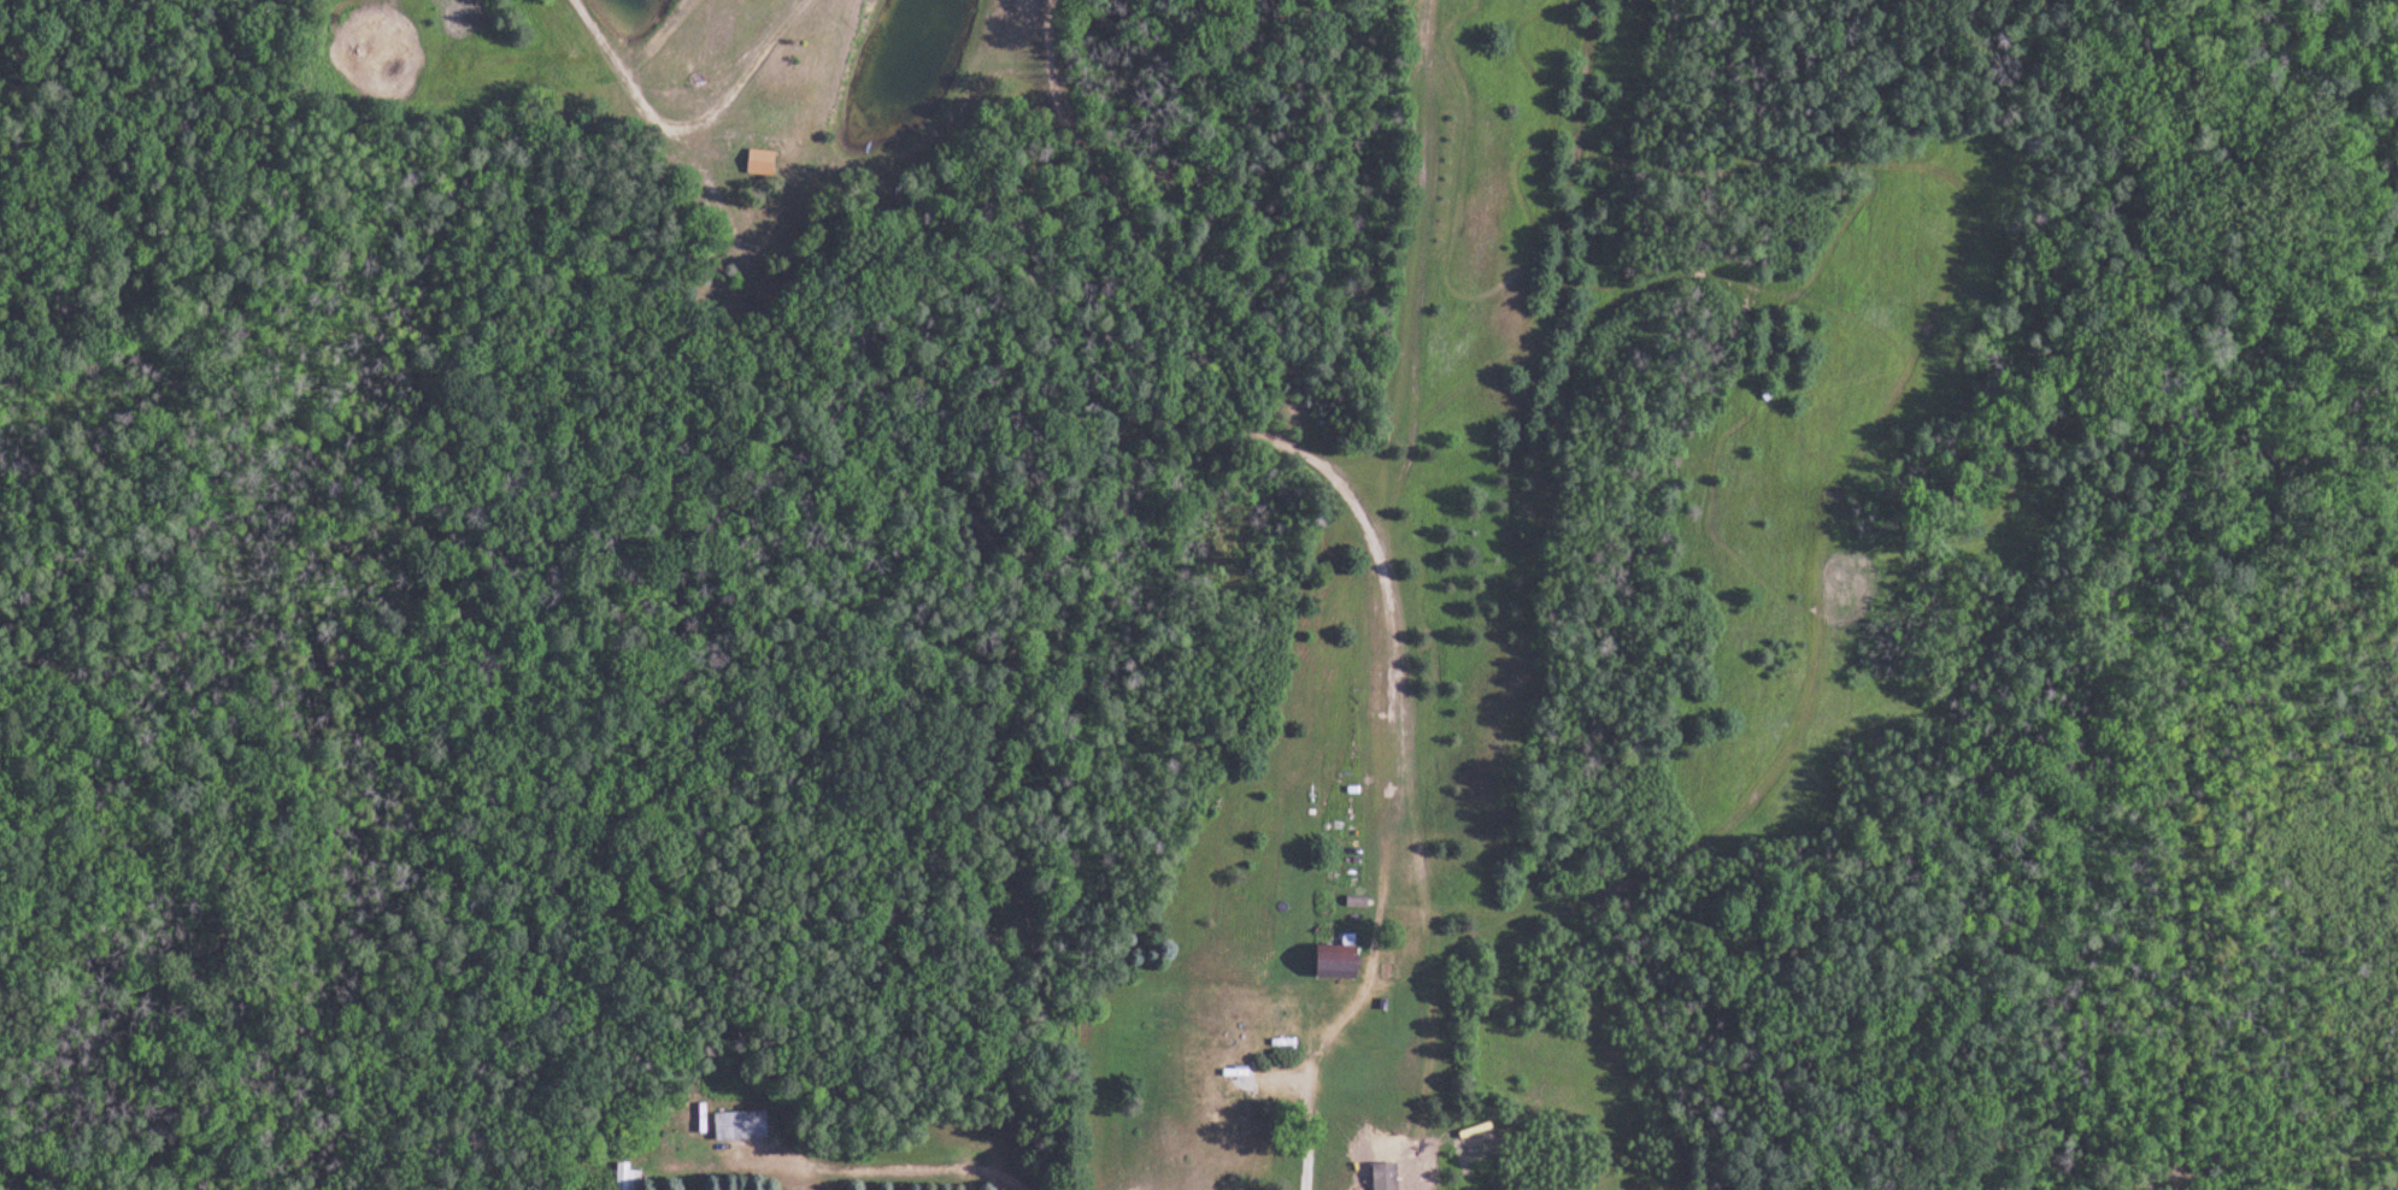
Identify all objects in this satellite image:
building: (1345, 961)
building: (747, 1124)
road: (1321, 1171)
building: (631, 1177)

